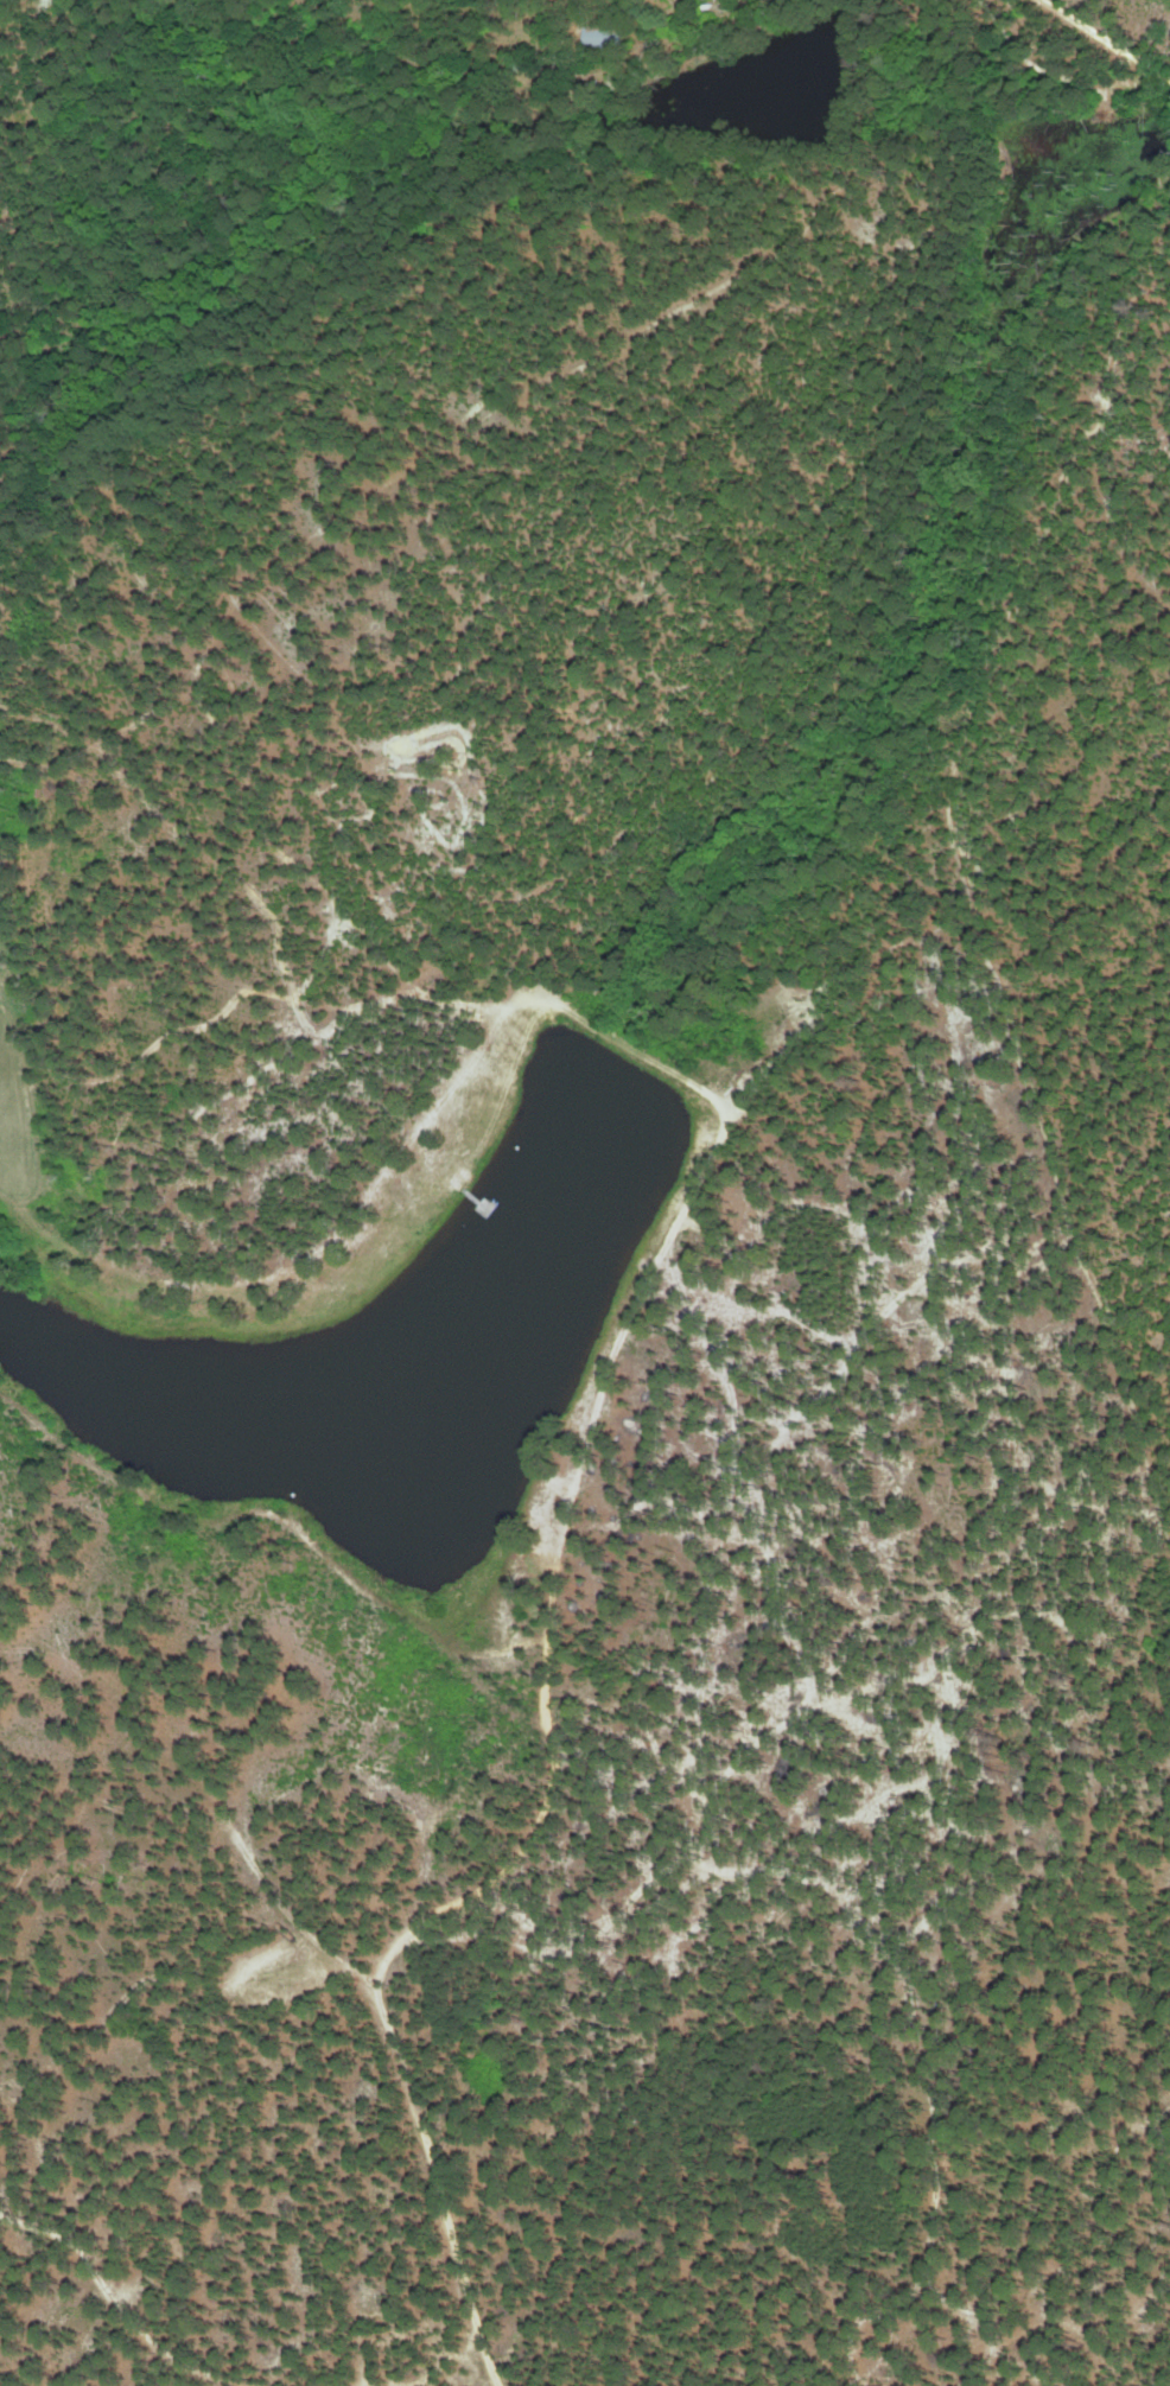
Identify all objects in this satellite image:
building: (604, 38)

